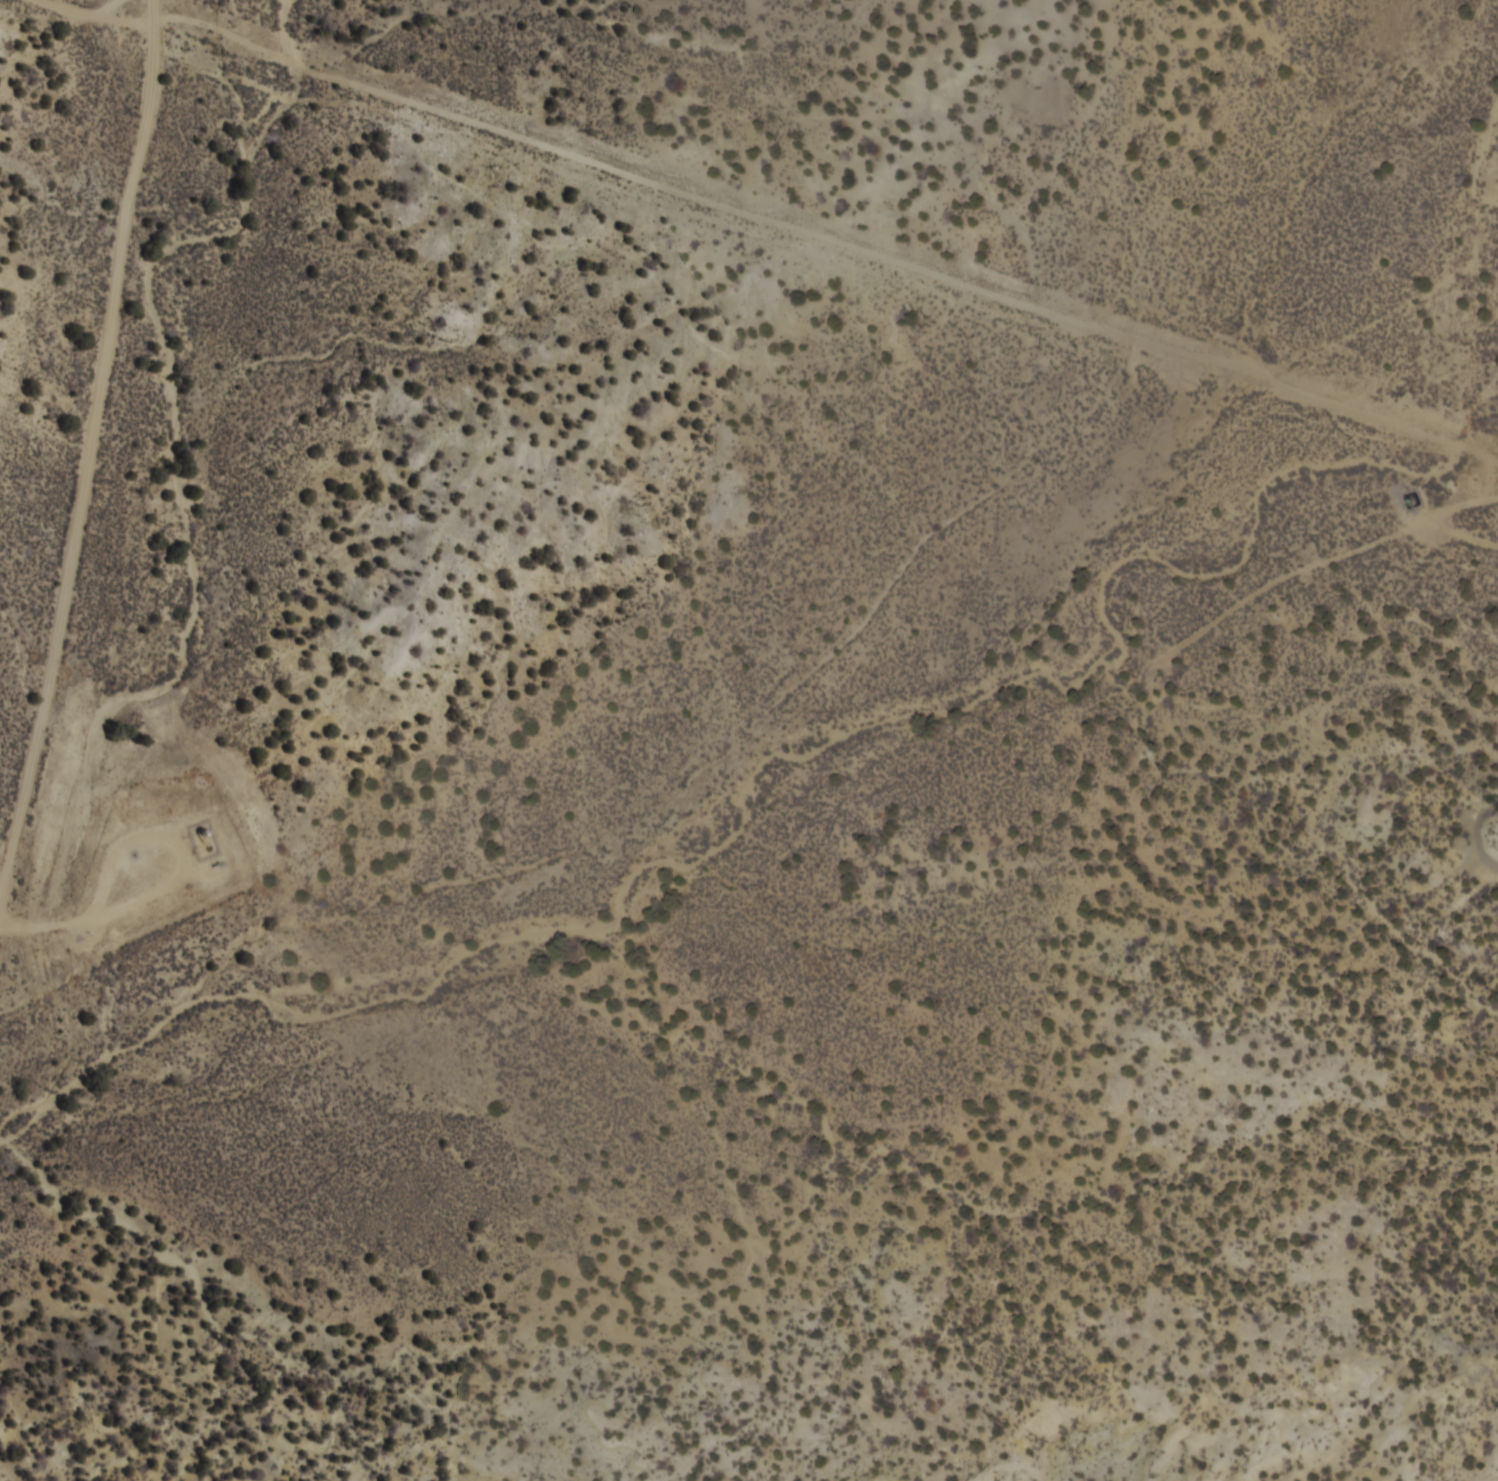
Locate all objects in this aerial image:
road: (91, 15)
river: (1484, 176)
road: (822, 258)
road: (79, 402)
road: (1462, 537)
river: (781, 787)

